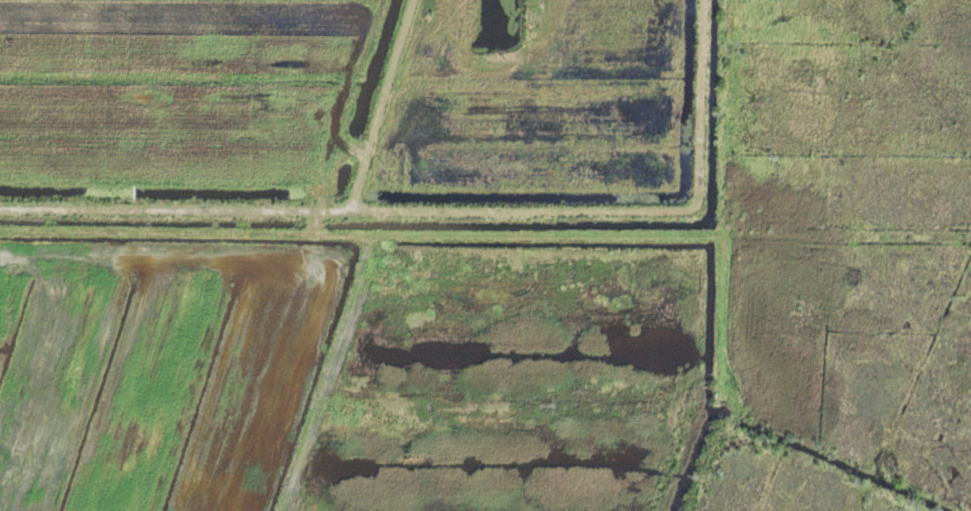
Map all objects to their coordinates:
road: (699, 83)
road: (418, 148)

